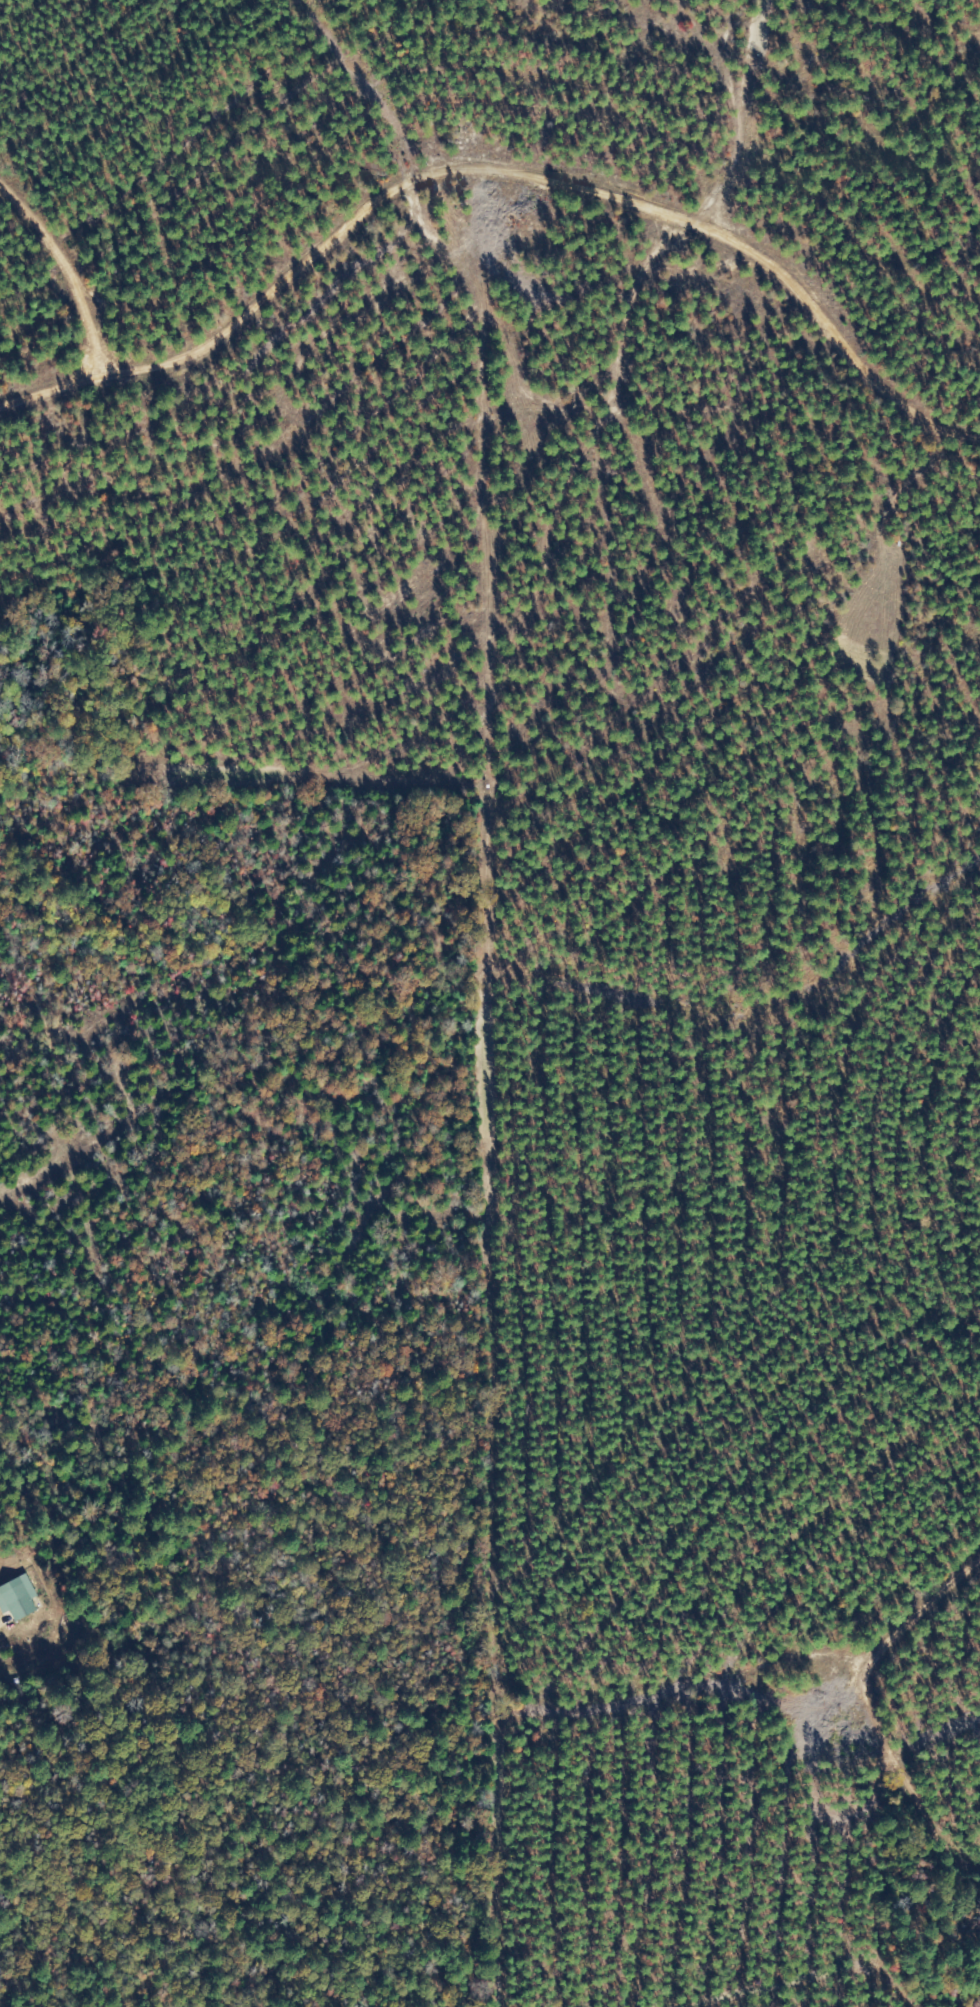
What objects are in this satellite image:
building: (20, 1597)

